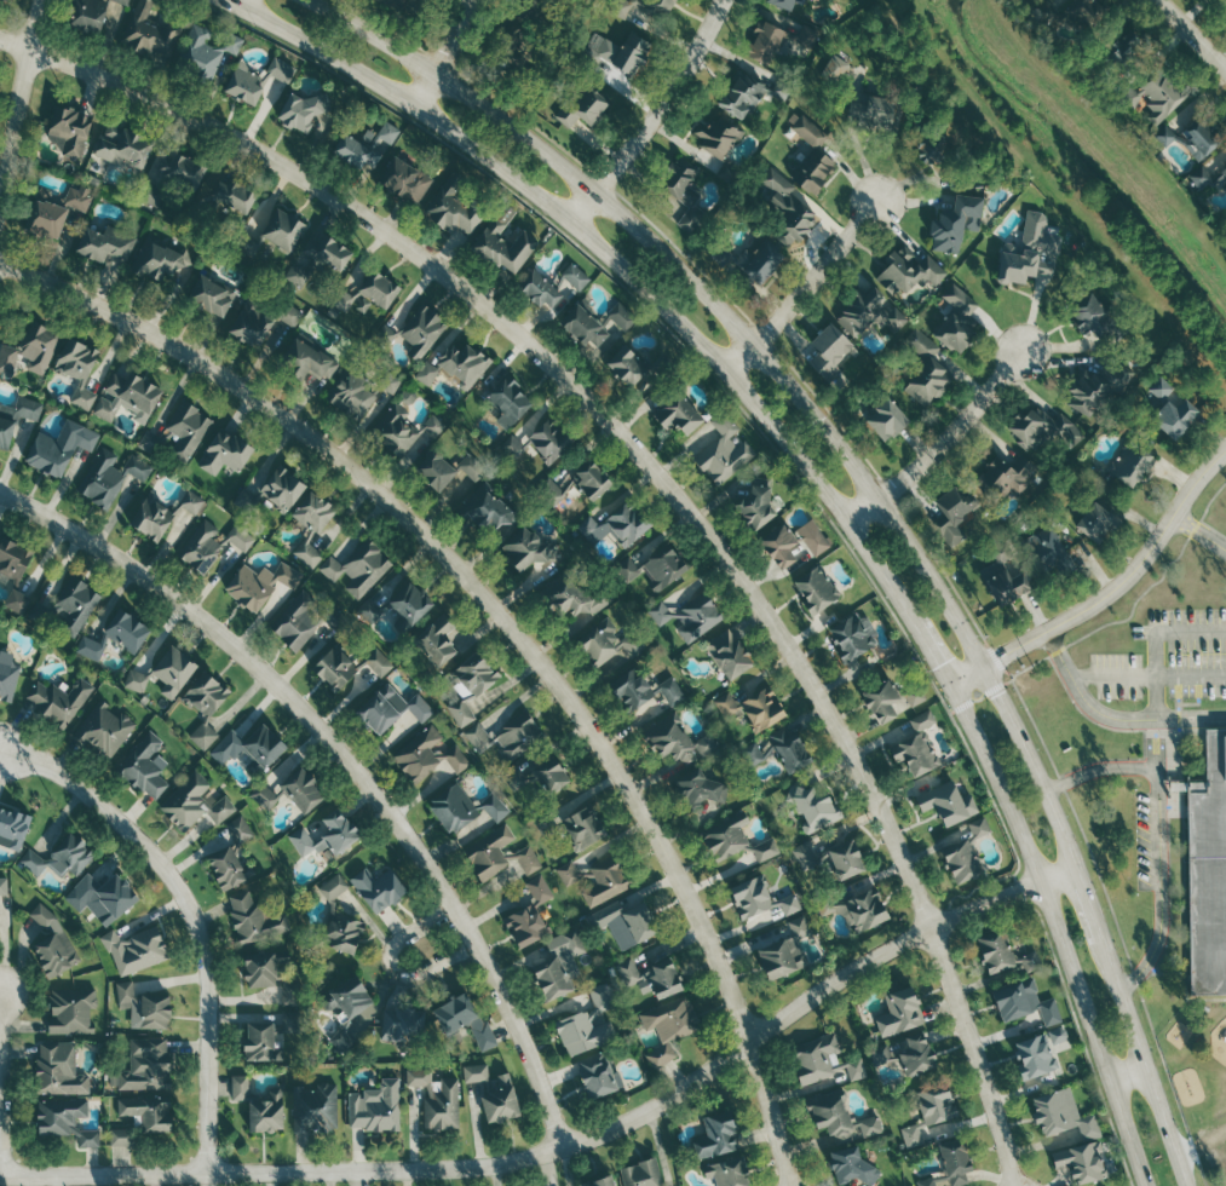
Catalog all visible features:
building: (402, 4)
building: (785, 4)
road: (244, 5)
building: (645, 7)
building: (1069, 12)
building: (91, 15)
building: (148, 33)
road: (1195, 34)
building: (507, 45)
building: (764, 45)
road: (445, 54)
building: (623, 54)
building: (1122, 54)
building: (197, 56)
building: (836, 69)
building: (252, 80)
building: (738, 94)
building: (1156, 94)
road: (18, 96)
building: (580, 108)
building: (301, 109)
building: (875, 113)
road: (656, 115)
building: (67, 131)
building: (386, 133)
building: (716, 136)
building: (1165, 136)
building: (1201, 137)
building: (122, 148)
building: (929, 150)
building: (352, 152)
building: (810, 157)
building: (178, 171)
building: (726, 173)
building: (1222, 174)
building: (402, 182)
building: (148, 194)
building: (679, 194)
building: (230, 196)
building: (79, 198)
building: (449, 207)
building: (787, 213)
building: (42, 219)
building: (952, 226)
building: (278, 231)
building: (501, 243)
building: (103, 244)
building: (324, 252)
road: (617, 259)
building: (1026, 260)
building: (155, 261)
building: (755, 264)
building: (906, 274)
building: (298, 275)
building: (572, 277)
road: (802, 287)
building: (375, 290)
building: (535, 290)
building: (208, 296)
building: (867, 312)
building: (290, 313)
building: (1097, 318)
building: (955, 321)
building: (247, 326)
building: (594, 326)
building: (420, 330)
building: (828, 346)
building: (29, 351)
building: (305, 363)
building: (453, 367)
building: (624, 368)
building: (922, 370)
building: (74, 375)
building: (393, 382)
building: (1095, 388)
building: (1159, 388)
building: (351, 393)
building: (408, 396)
building: (506, 401)
building: (885, 414)
building: (675, 416)
building: (1173, 416)
building: (185, 430)
building: (401, 430)
building: (1042, 430)
building: (5, 436)
building: (547, 439)
road: (943, 443)
building: (56, 451)
building: (221, 453)
building: (721, 455)
building: (1128, 465)
building: (448, 472)
building: (108, 476)
building: (998, 476)
road: (658, 477)
building: (588, 479)
building: (280, 489)
building: (553, 490)
road: (879, 494)
building: (952, 501)
building: (754, 507)
building: (484, 511)
building: (163, 518)
building: (624, 522)
building: (1093, 522)
building: (309, 526)
building: (585, 528)
road: (1201, 532)
building: (242, 537)
building: (813, 541)
building: (776, 545)
building: (200, 547)
building: (525, 549)
building: (1046, 552)
building: (11, 559)
building: (357, 568)
building: (661, 569)
building: (626, 570)
building: (258, 585)
building: (1006, 585)
building: (813, 589)
road: (1111, 595)
building: (570, 598)
building: (18, 600)
building: (407, 603)
building: (68, 606)
building: (373, 606)
building: (685, 612)
building: (332, 618)
building: (294, 622)
road: (514, 622)
road: (1191, 629)
building: (113, 637)
building: (851, 637)
building: (434, 640)
building: (606, 643)
building: (726, 655)
road: (934, 656)
traffic signals: (1007, 656)
traffic signals: (940, 666)
building: (344, 667)
building: (168, 672)
road: (1156, 674)
road: (1147, 675)
building: (138, 680)
building: (6, 681)
building: (467, 686)
building: (640, 691)
traffic signals: (998, 691)
building: (207, 693)
building: (886, 699)
building: (56, 702)
building: (750, 708)
building: (418, 709)
building: (376, 710)
road: (1113, 718)
building: (102, 730)
building: (205, 735)
building: (505, 737)
building: (675, 742)
building: (915, 748)
building: (258, 749)
building: (787, 749)
building: (750, 754)
building: (425, 756)
road: (349, 762)
building: (142, 768)
building: (546, 776)
building: (513, 779)
building: (695, 788)
building: (299, 791)
building: (261, 798)
building: (191, 804)
building: (946, 805)
building: (459, 808)
building: (813, 808)
road: (1159, 825)
building: (580, 828)
building: (12, 829)
building: (237, 830)
building: (322, 836)
building: (735, 842)
building: (960, 852)
building: (58, 857)
building: (485, 857)
building: (802, 857)
building: (842, 859)
building: (528, 863)
building: (223, 868)
building: (1208, 870)
building: (568, 874)
road: (1059, 879)
building: (604, 882)
building: (4, 885)
building: (330, 888)
building: (375, 888)
building: (537, 890)
building: (110, 898)
building: (76, 899)
building: (756, 902)
building: (856, 909)
road: (194, 912)
building: (41, 917)
building: (253, 920)
building: (622, 923)
building: (524, 926)
building: (340, 932)
road: (1059, 933)
road: (437, 939)
building: (570, 943)
building: (133, 951)
building: (782, 951)
building: (991, 952)
building: (50, 955)
building: (266, 977)
building: (650, 977)
building: (548, 978)
building: (344, 997)
building: (1021, 1003)
building: (142, 1007)
building: (69, 1011)
building: (897, 1013)
building: (461, 1020)
building: (289, 1023)
building: (401, 1025)
building: (586, 1025)
building: (667, 1027)
building: (1059, 1034)
building: (341, 1041)
building: (258, 1043)
building: (903, 1054)
building: (1032, 1057)
building: (819, 1063)
building: (145, 1066)
building: (57, 1070)
road: (1129, 1075)
building: (593, 1076)
road: (1, 1086)
building: (489, 1093)
building: (434, 1099)
building: (257, 1106)
building: (933, 1106)
building: (312, 1107)
building: (373, 1107)
building: (1059, 1115)
building: (139, 1119)
building: (836, 1119)
building: (63, 1121)
building: (714, 1135)
building: (911, 1136)
road: (554, 1151)
building: (1080, 1162)
building: (949, 1167)
building: (847, 1168)
building: (724, 1173)
building: (639, 1174)
building: (598, 1182)

